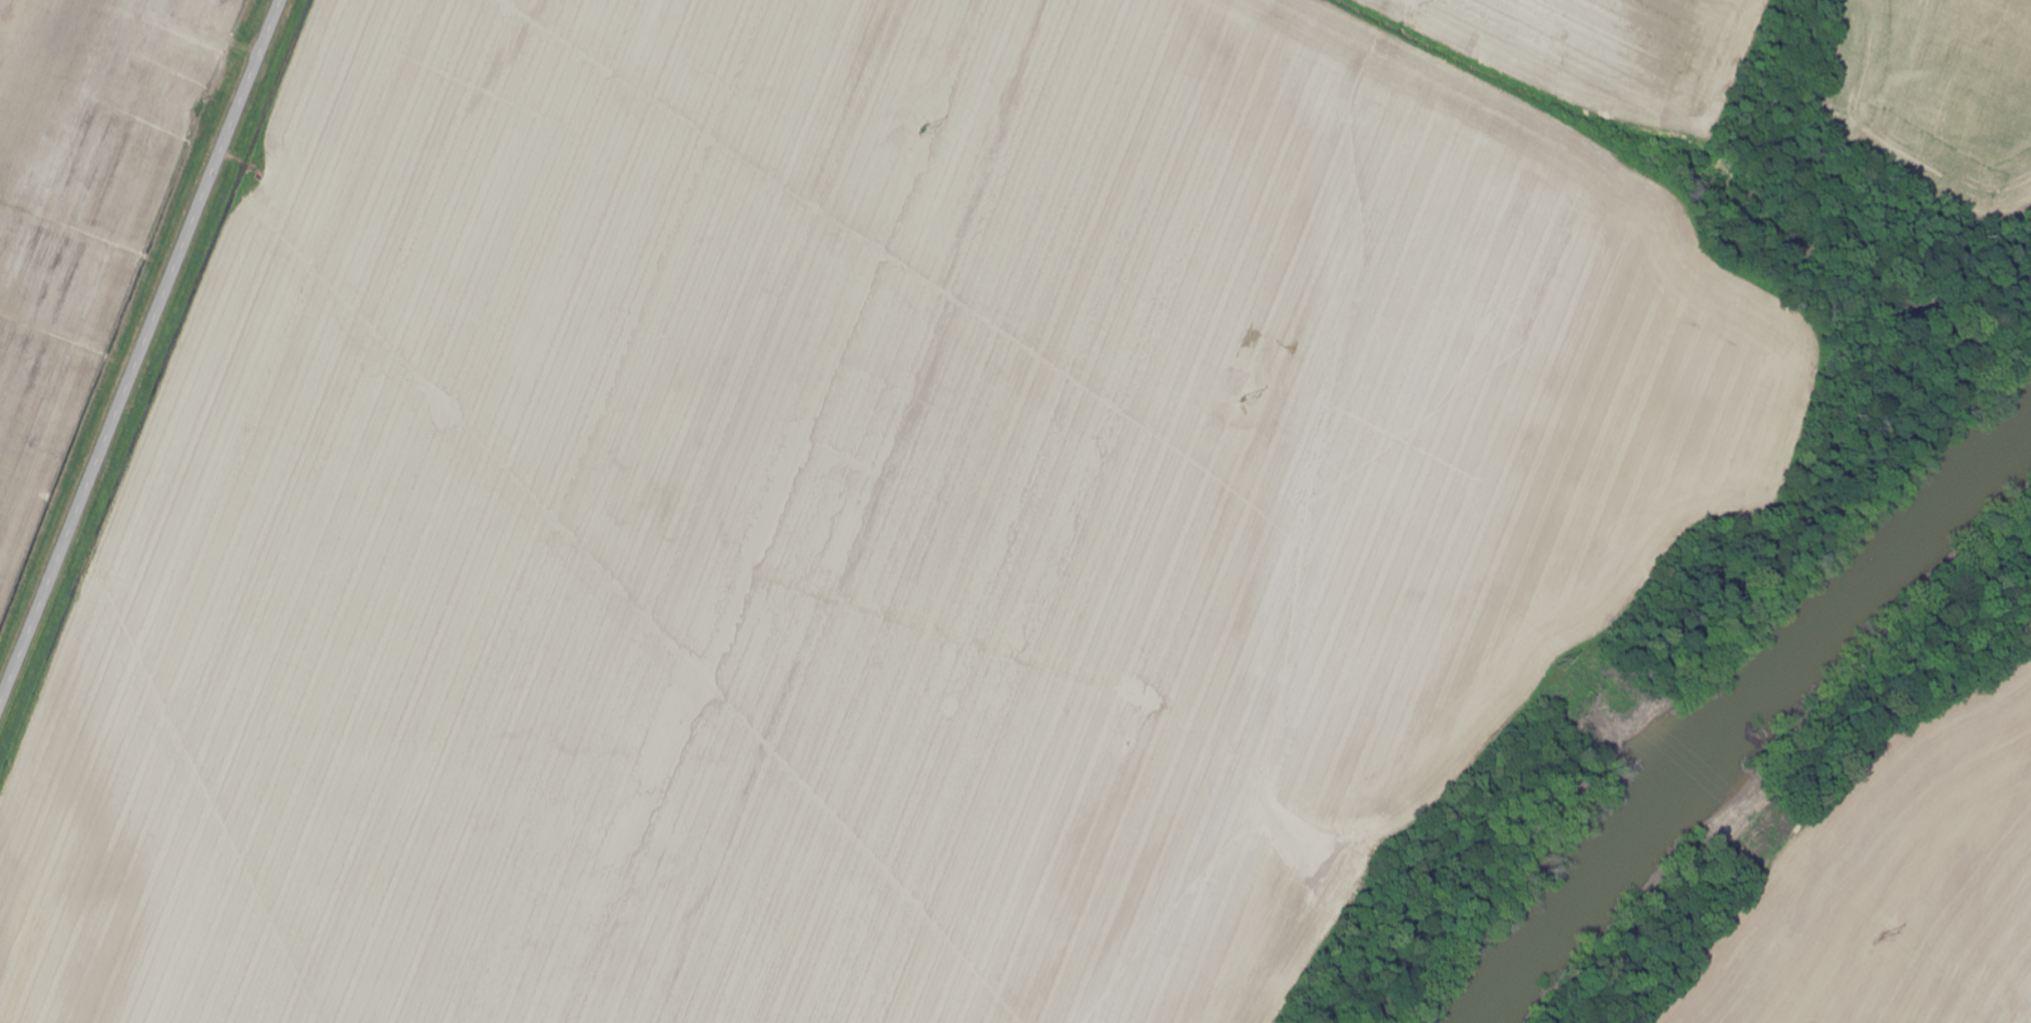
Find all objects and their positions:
road: (140, 352)
river: (1739, 714)

